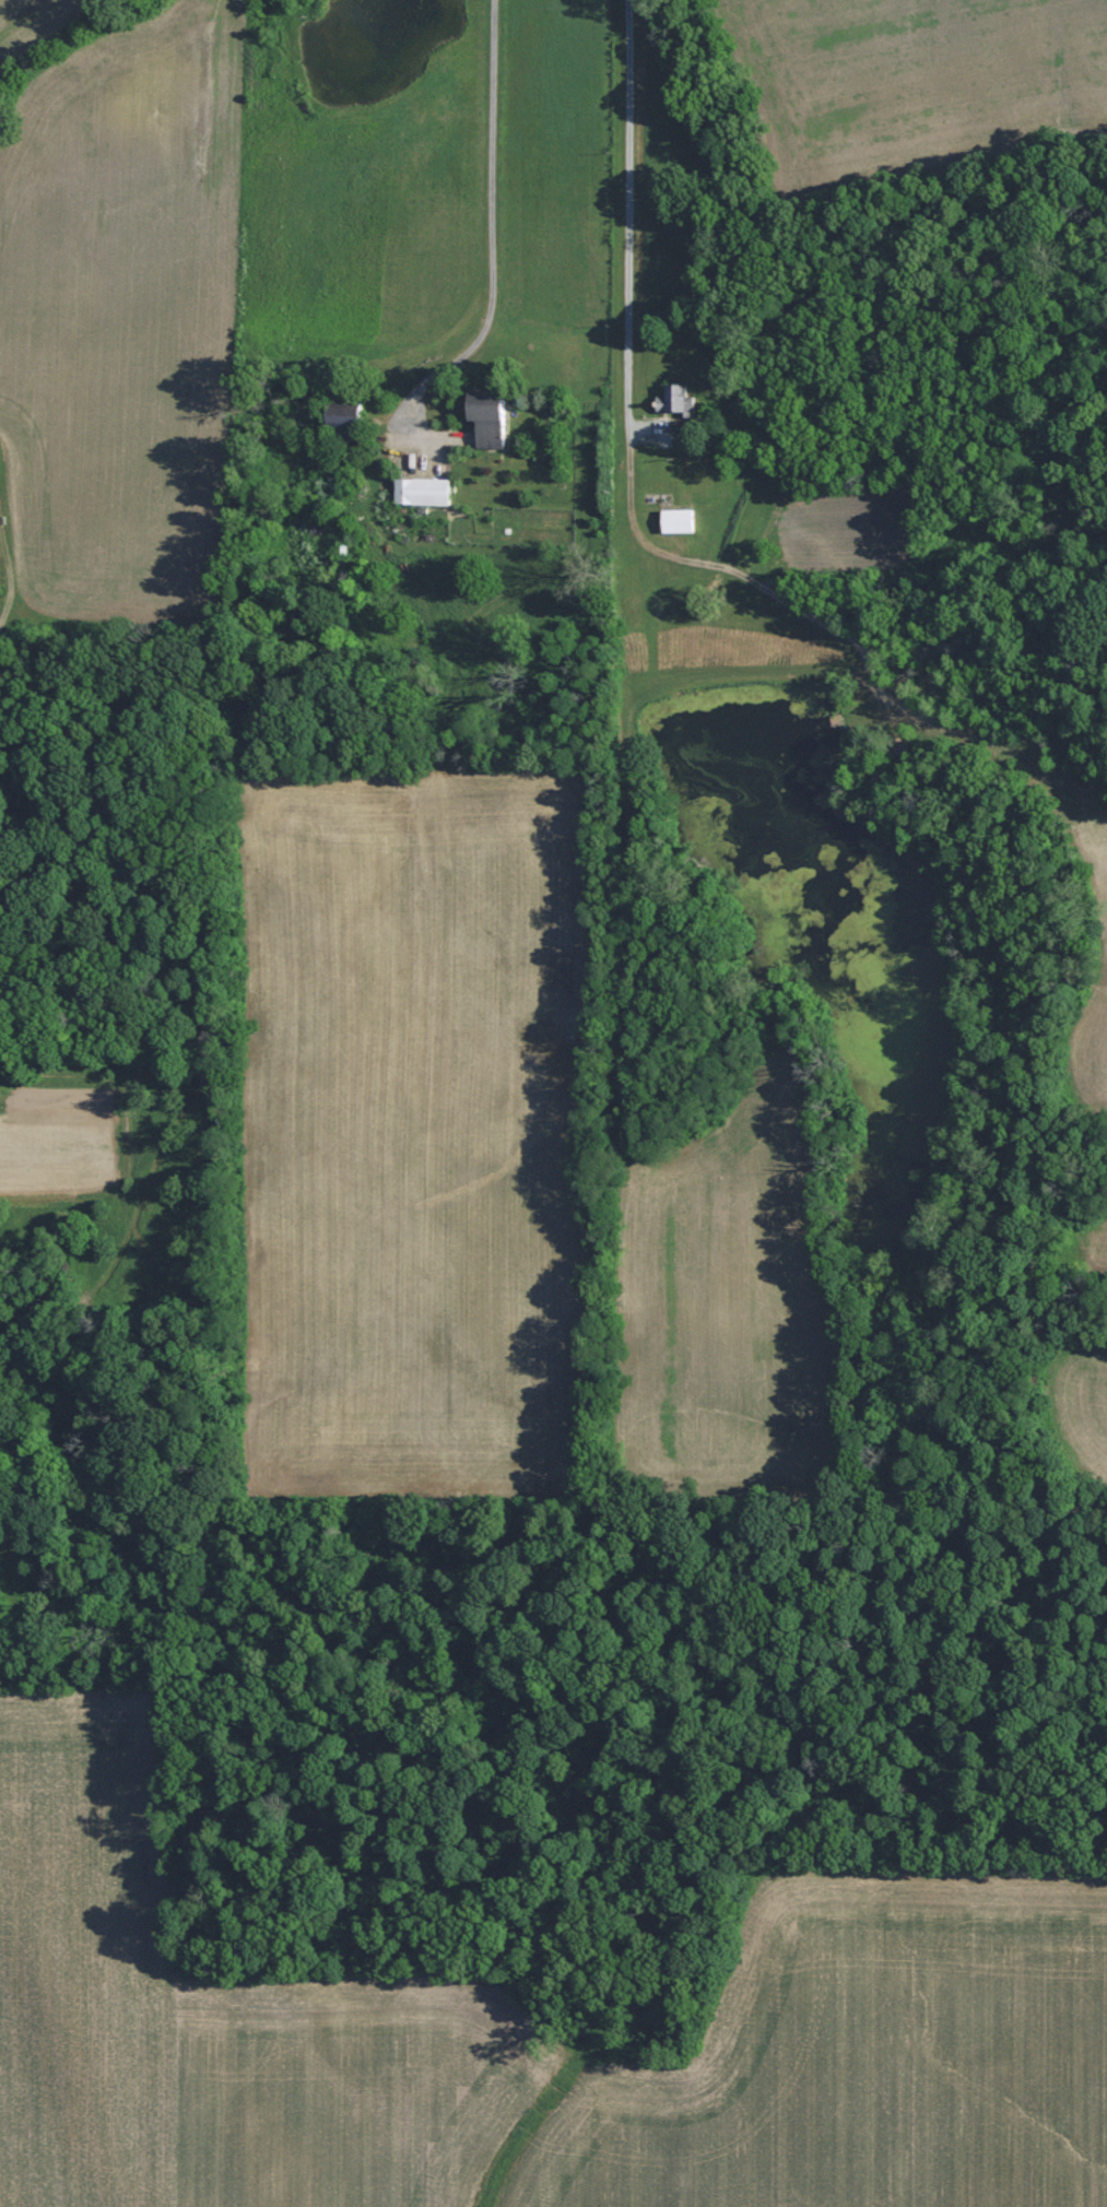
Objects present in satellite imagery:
road: (615, 222)
road: (488, 225)
building: (675, 398)
building: (490, 417)
building: (346, 420)
building: (422, 491)
building: (678, 520)

